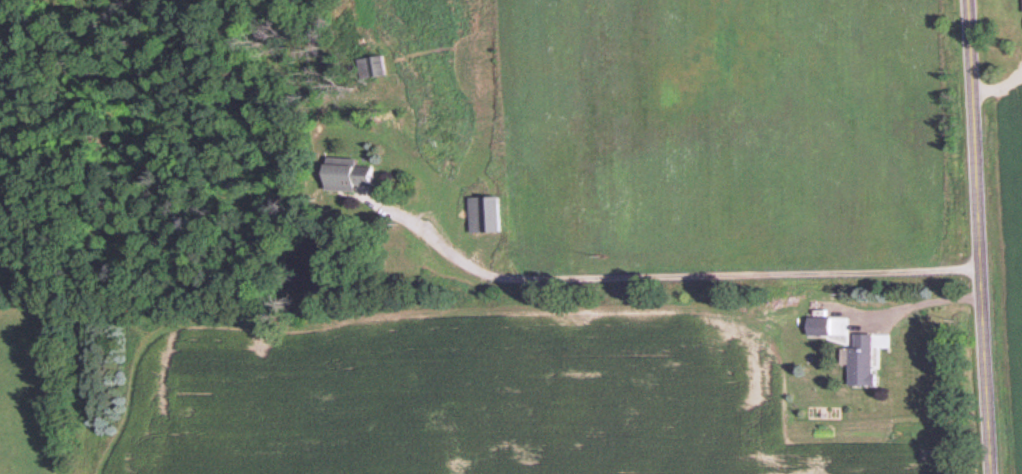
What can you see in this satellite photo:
building: (1020, 5)
building: (367, 66)
road: (999, 91)
building: (341, 175)
building: (482, 215)
road: (978, 236)
road: (672, 281)
road: (922, 303)
building: (814, 327)
building: (857, 362)

